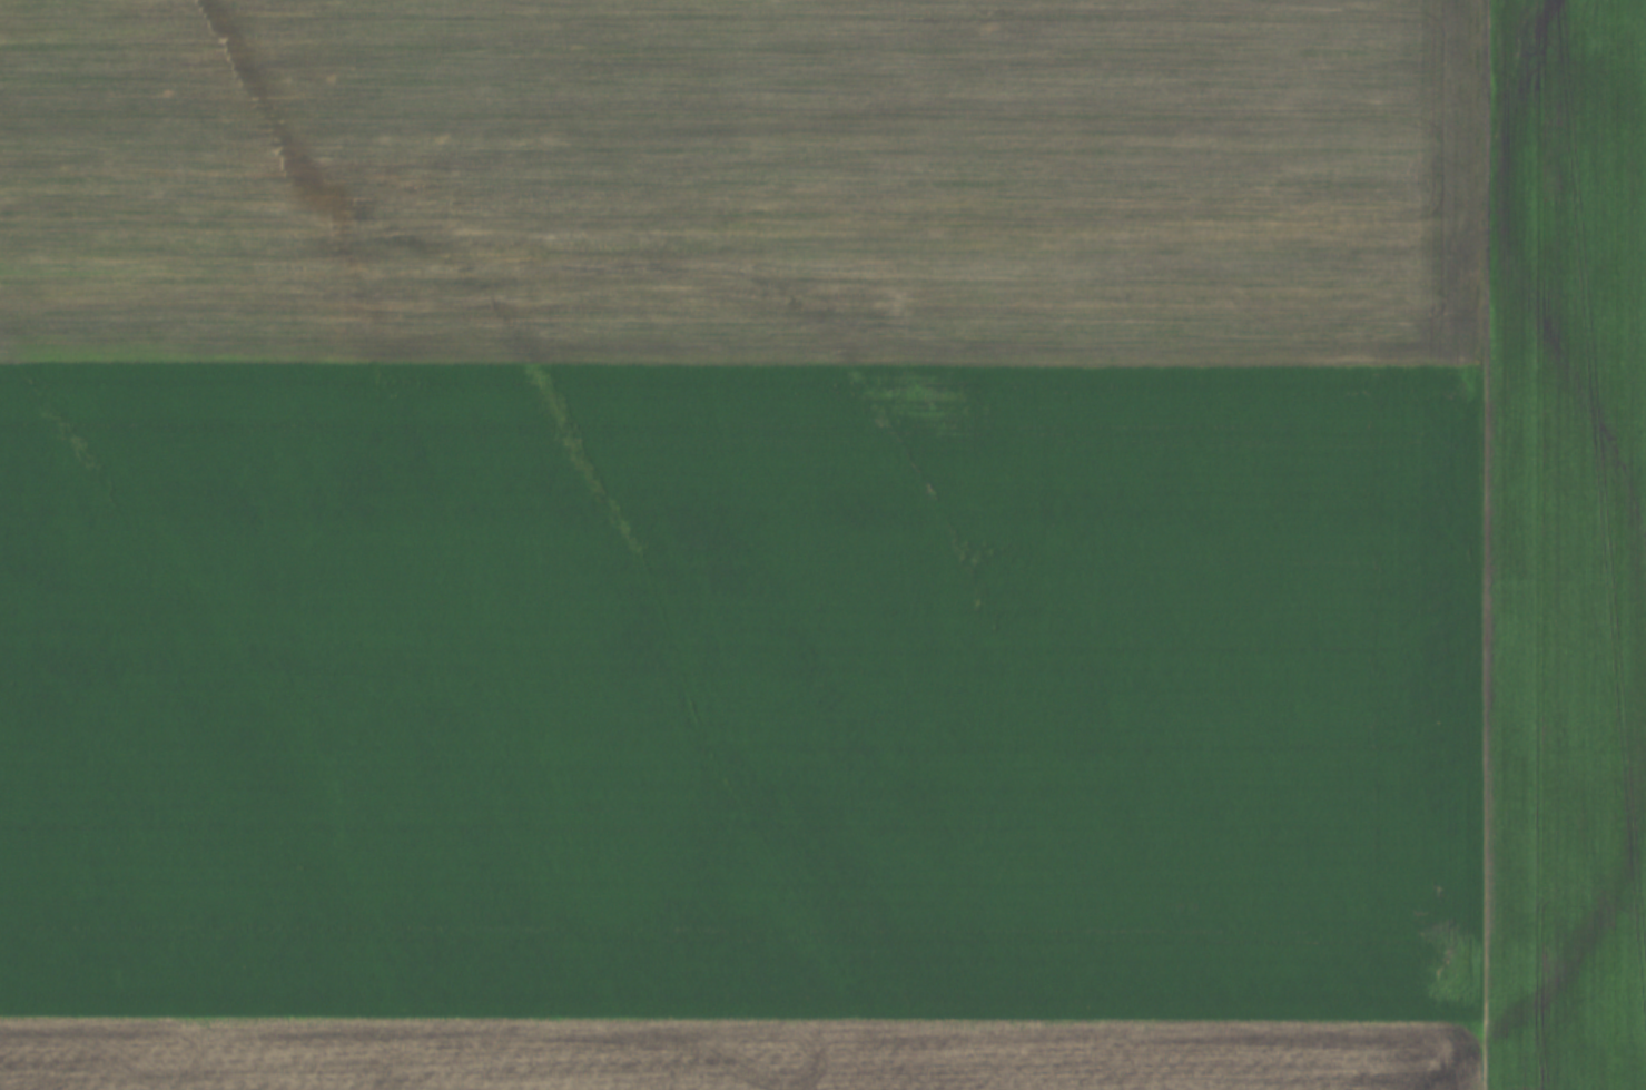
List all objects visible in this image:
crop: (738, 180)
crop: (1563, 536)
crop: (741, 689)
crop: (736, 1053)

